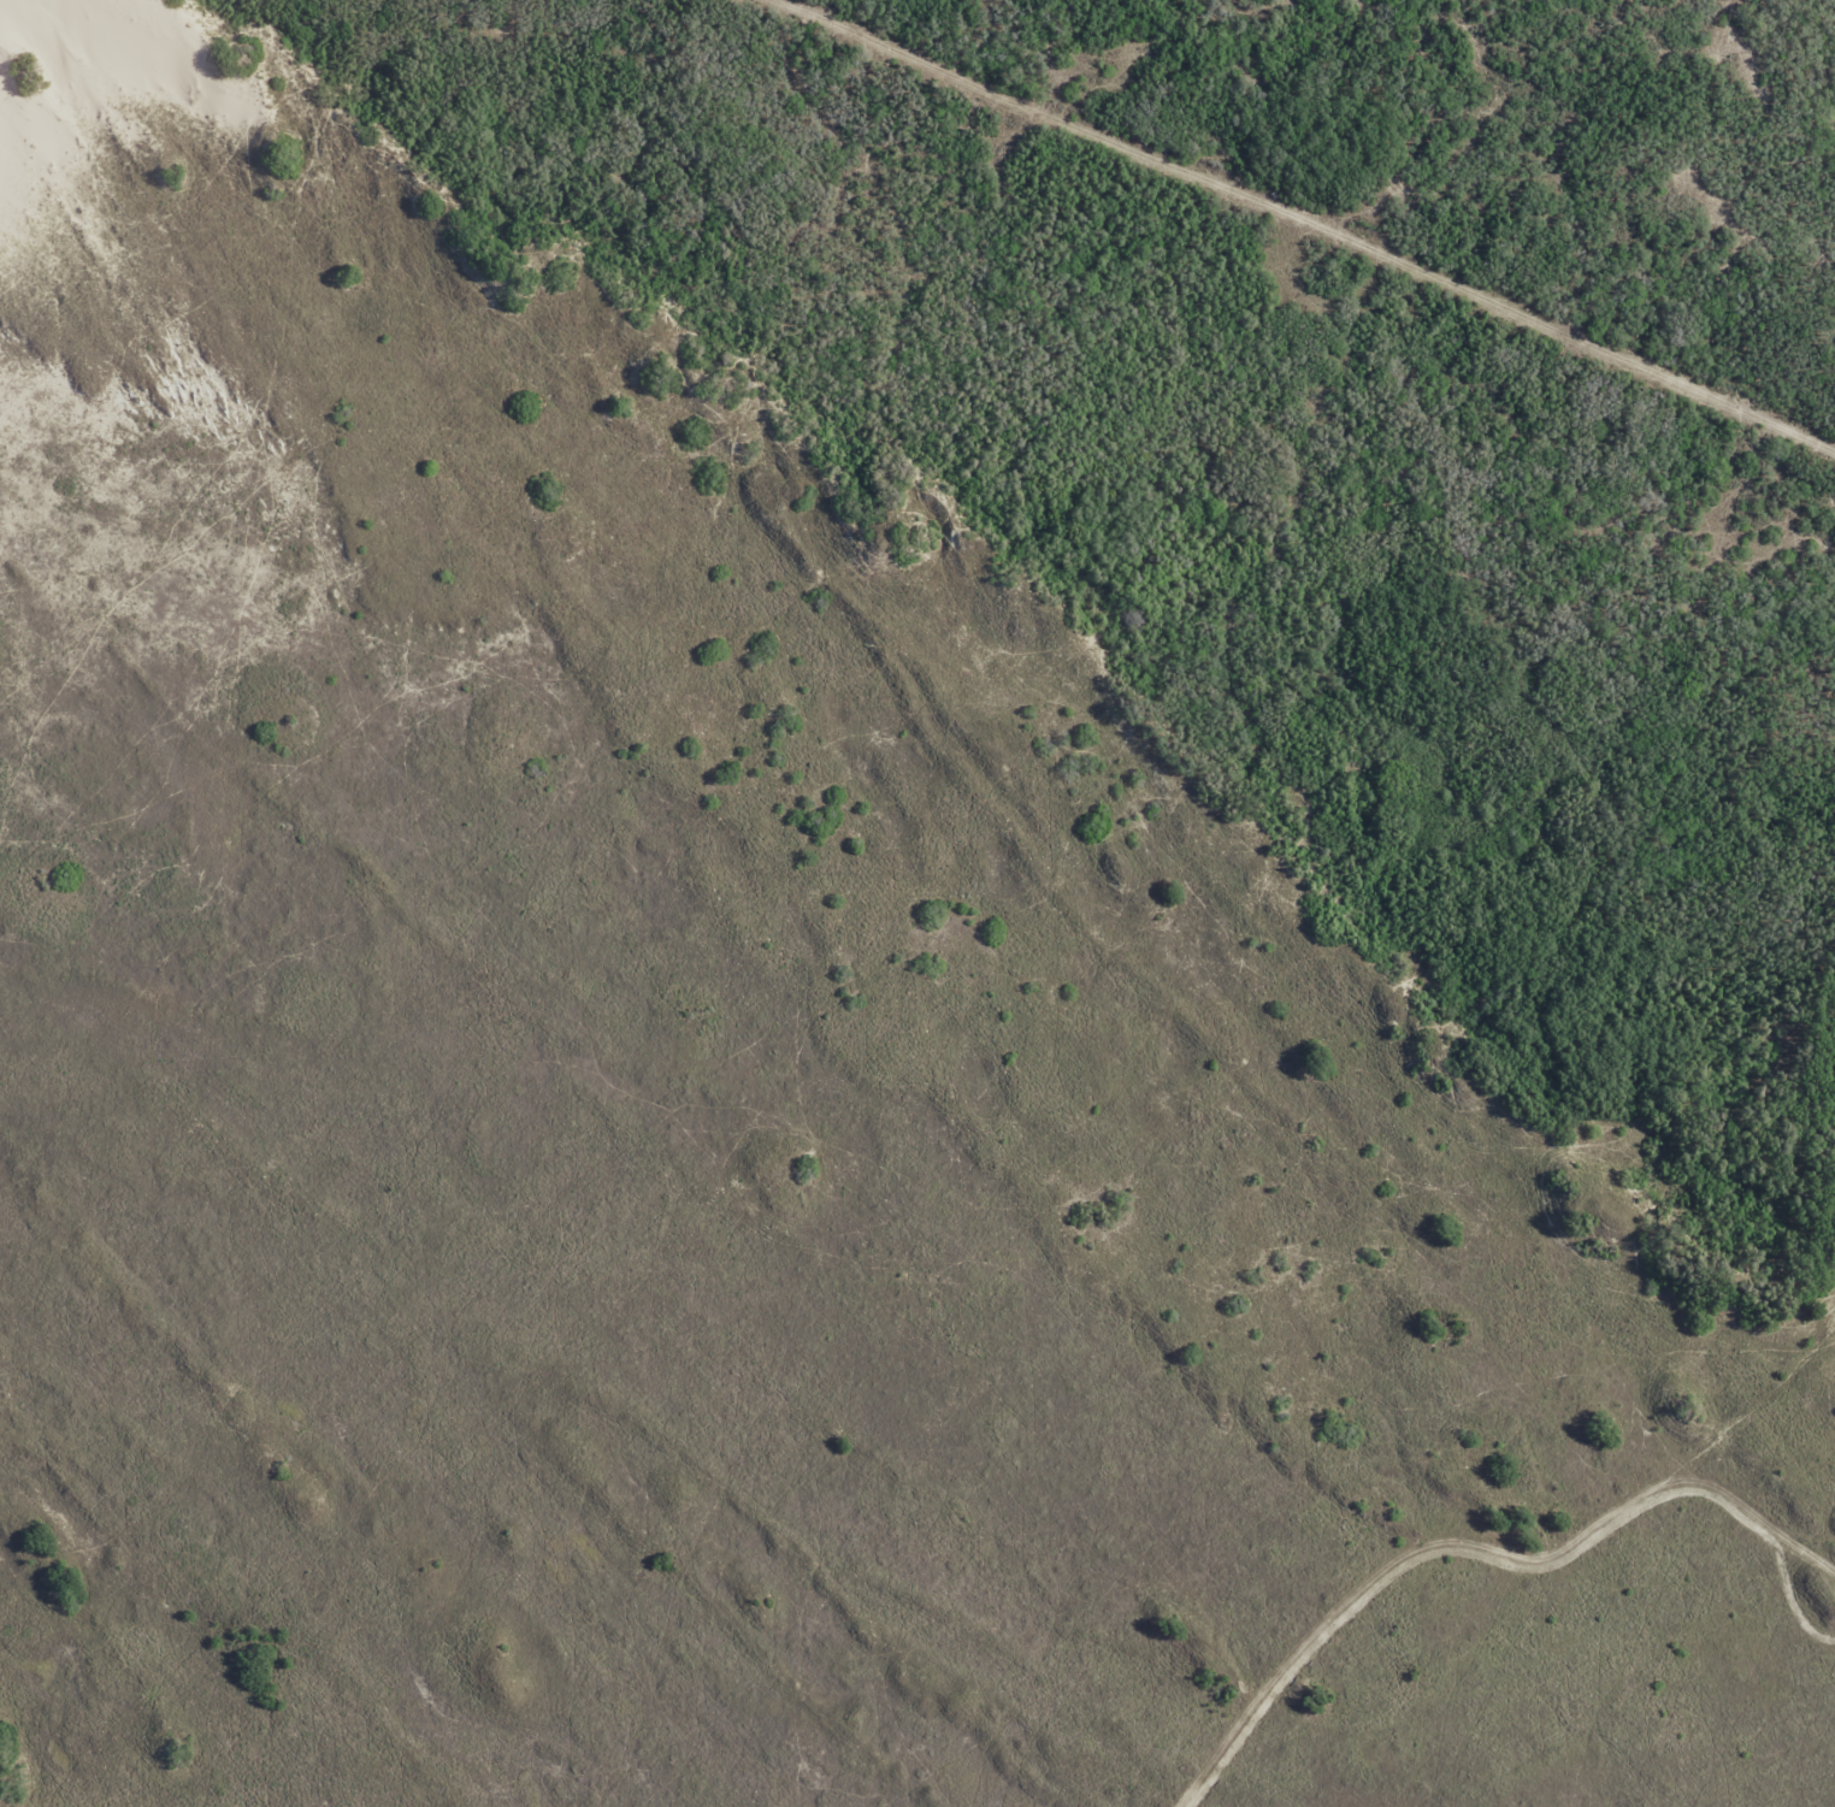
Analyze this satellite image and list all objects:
road: (1275, 232)

